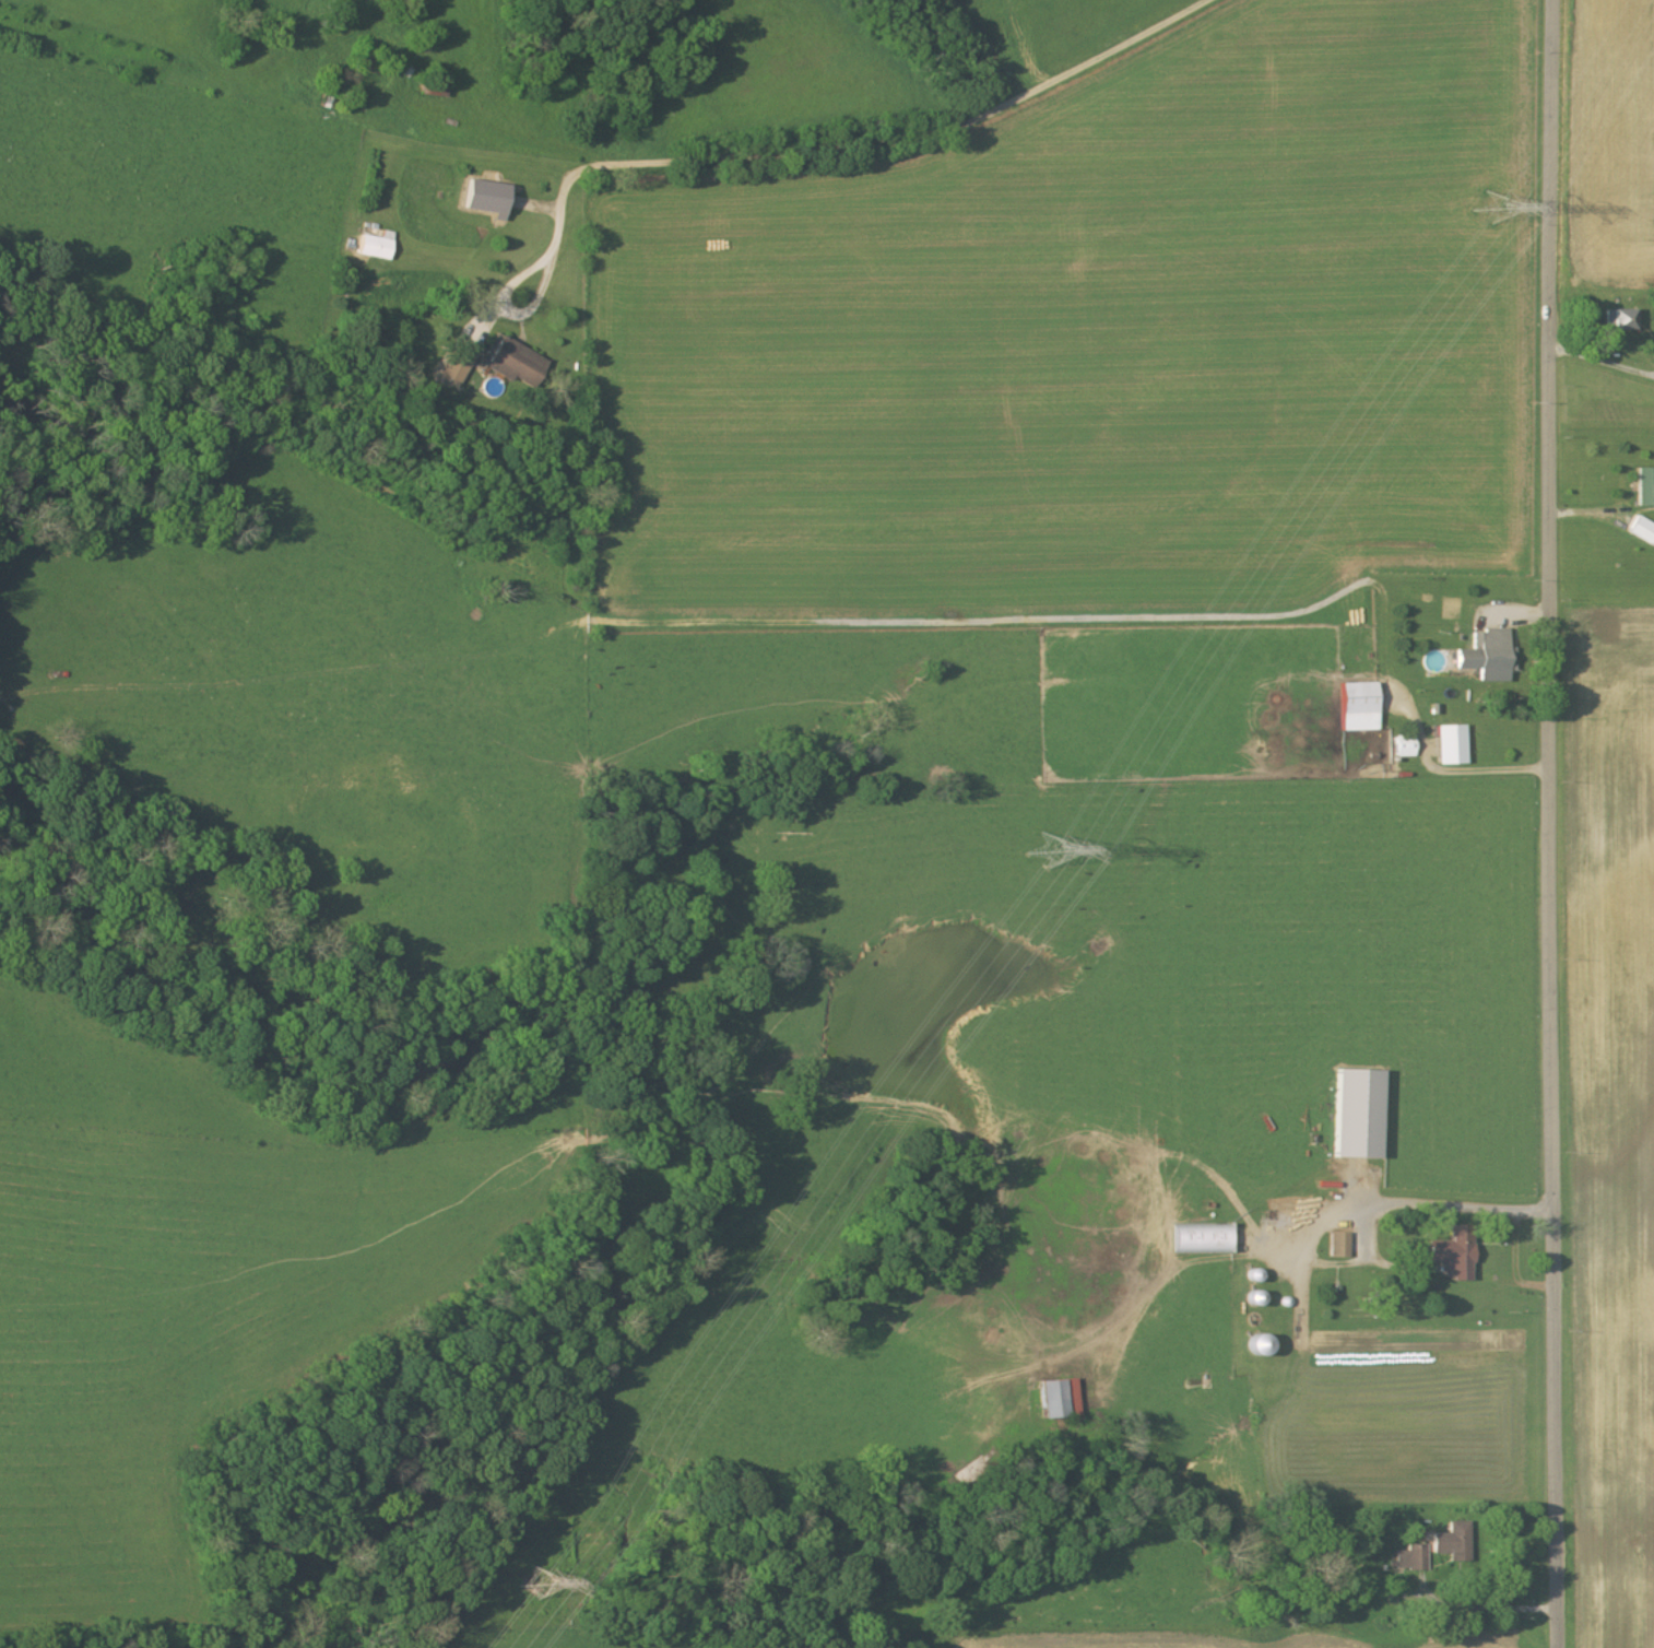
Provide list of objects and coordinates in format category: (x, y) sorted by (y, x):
road: (867, 145)
building: (485, 199)
power tower: (1482, 210)
building: (377, 246)
road: (506, 309)
building: (1622, 320)
building: (515, 364)
building: (456, 367)
building: (1645, 488)
building: (1642, 531)
building: (1488, 657)
building: (1358, 708)
building: (1451, 745)
building: (1404, 746)
road: (1551, 823)
power tower: (1038, 855)
building: (1356, 1114)
building: (1201, 1239)
building: (1338, 1245)
building: (1453, 1253)
building: (1256, 1344)
building: (1059, 1399)
building: (1453, 1542)
building: (1413, 1559)
power tower: (521, 1591)

